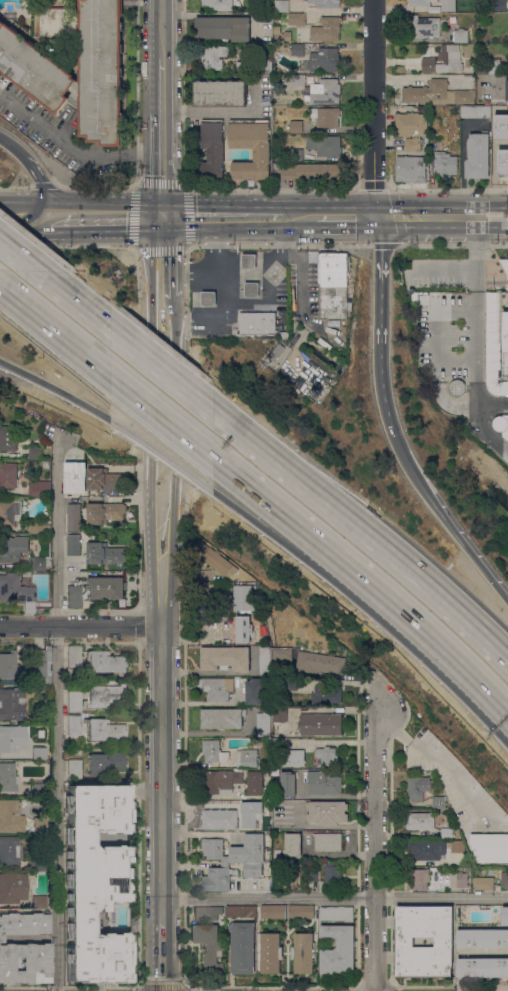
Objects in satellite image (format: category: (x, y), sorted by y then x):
building: (240, 2)
building: (419, 2)
building: (326, 3)
building: (217, 5)
building: (449, 5)
building: (500, 5)
building: (282, 6)
building: (296, 19)
building: (57, 23)
building: (423, 26)
building: (224, 28)
road: (161, 29)
building: (326, 29)
building: (276, 33)
building: (460, 35)
building: (297, 49)
building: (213, 57)
building: (324, 60)
building: (444, 60)
building: (253, 66)
building: (470, 68)
building: (489, 68)
building: (34, 69)
building: (101, 71)
building: (274, 77)
building: (295, 80)
building: (77, 85)
building: (507, 90)
building: (325, 91)
building: (220, 92)
building: (437, 93)
building: (487, 102)
road: (378, 108)
road: (221, 110)
building: (475, 111)
building: (325, 116)
building: (457, 123)
building: (296, 126)
building: (497, 127)
building: (411, 129)
road: (161, 136)
building: (457, 137)
road: (6, 138)
building: (325, 145)
road: (72, 146)
building: (213, 148)
building: (261, 155)
building: (296, 155)
building: (478, 156)
building: (446, 163)
building: (502, 164)
building: (410, 169)
building: (310, 171)
road: (463, 171)
road: (38, 174)
road: (185, 185)
road: (17, 205)
road: (97, 213)
traffic signals: (160, 213)
road: (221, 215)
road: (300, 216)
road: (348, 216)
traffic signals: (379, 216)
road: (443, 216)
road: (18, 225)
road: (18, 253)
road: (160, 255)
building: (249, 260)
road: (189, 270)
building: (332, 285)
building: (252, 289)
road: (380, 289)
building: (416, 296)
road: (72, 297)
building: (208, 298)
road: (247, 302)
road: (474, 305)
road: (161, 308)
road: (199, 319)
building: (258, 323)
building: (344, 329)
road: (56, 331)
building: (284, 334)
building: (497, 336)
building: (276, 352)
road: (162, 367)
road: (16, 373)
building: (451, 386)
road: (385, 396)
road: (73, 402)
road: (491, 403)
road: (163, 418)
building: (501, 424)
road: (483, 425)
building: (8, 438)
building: (35, 453)
road: (164, 459)
road: (491, 469)
road: (161, 471)
building: (12, 474)
building: (75, 477)
building: (104, 480)
building: (40, 488)
building: (23, 489)
building: (10, 512)
building: (105, 512)
building: (73, 518)
road: (445, 518)
road: (290, 519)
building: (38, 526)
road: (363, 532)
road: (289, 541)
building: (73, 544)
building: (13, 548)
building: (105, 554)
building: (215, 559)
building: (38, 563)
building: (105, 587)
building: (15, 588)
building: (74, 596)
building: (243, 596)
road: (81, 624)
building: (230, 626)
building: (263, 629)
building: (240, 630)
road: (440, 643)
building: (282, 654)
building: (74, 656)
building: (225, 658)
building: (265, 660)
building: (104, 662)
building: (319, 662)
building: (41, 664)
building: (8, 668)
road: (357, 682)
building: (290, 683)
building: (218, 688)
building: (254, 691)
building: (102, 695)
building: (326, 695)
building: (74, 701)
building: (11, 704)
road: (57, 712)
building: (280, 714)
building: (222, 718)
building: (263, 723)
building: (74, 724)
building: (320, 724)
building: (104, 730)
road: (214, 732)
building: (9, 738)
building: (277, 741)
building: (213, 751)
building: (39, 753)
building: (327, 756)
building: (246, 758)
building: (293, 758)
building: (316, 761)
building: (105, 762)
building: (74, 769)
road: (161, 770)
building: (267, 771)
building: (8, 777)
building: (221, 781)
building: (254, 783)
building: (288, 783)
building: (323, 783)
building: (416, 788)
building: (37, 790)
building: (34, 801)
building: (439, 802)
building: (327, 812)
building: (250, 813)
building: (11, 816)
building: (219, 818)
building: (420, 821)
building: (39, 825)
building: (447, 833)
building: (328, 841)
building: (436, 842)
building: (293, 845)
road: (374, 846)
building: (456, 846)
building: (490, 847)
building: (237, 849)
building: (9, 851)
building: (425, 851)
road: (342, 854)
building: (264, 862)
building: (37, 863)
building: (251, 869)
building: (487, 872)
building: (332, 873)
building: (312, 874)
building: (217, 878)
building: (291, 879)
building: (418, 879)
building: (505, 879)
building: (462, 880)
building: (94, 882)
building: (483, 883)
building: (13, 887)
road: (267, 897)
road: (441, 898)
building: (38, 901)
building: (241, 911)
building: (274, 911)
building: (301, 911)
building: (207, 913)
building: (336, 913)
building: (505, 915)
building: (483, 938)
building: (444, 942)
building: (208, 945)
building: (243, 947)
building: (24, 948)
building: (338, 949)
building: (304, 952)
road: (161, 953)
building: (270, 953)
building: (483, 967)
road: (69, 986)
road: (162, 986)
road: (271, 986)
road: (450, 986)
road: (374, 987)

